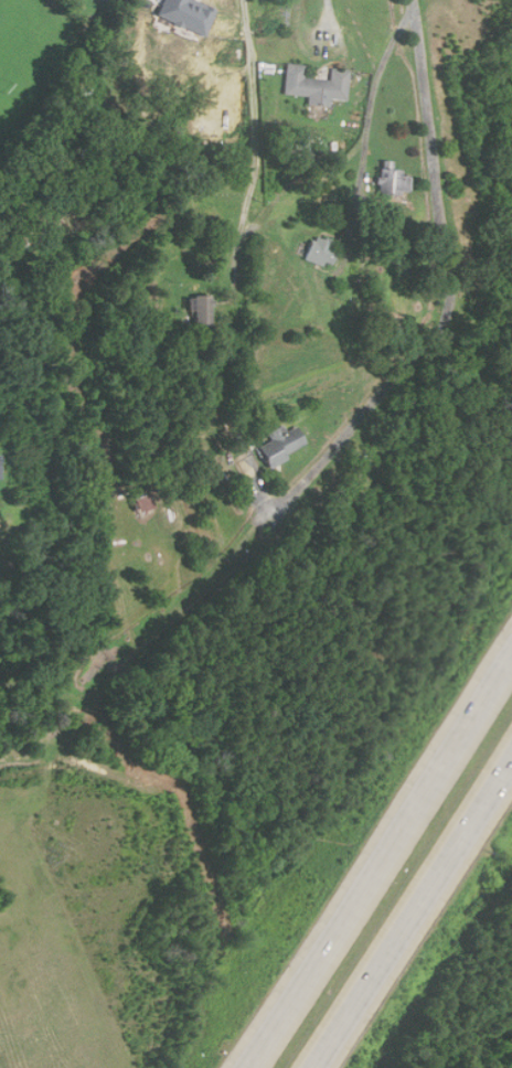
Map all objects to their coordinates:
building: (188, 14)
park: (29, 44)
building: (317, 85)
road: (370, 113)
road: (257, 135)
building: (394, 182)
building: (322, 252)
road: (452, 286)
building: (203, 310)
building: (396, 334)
building: (280, 444)
building: (143, 502)
road: (375, 858)
road: (409, 910)

